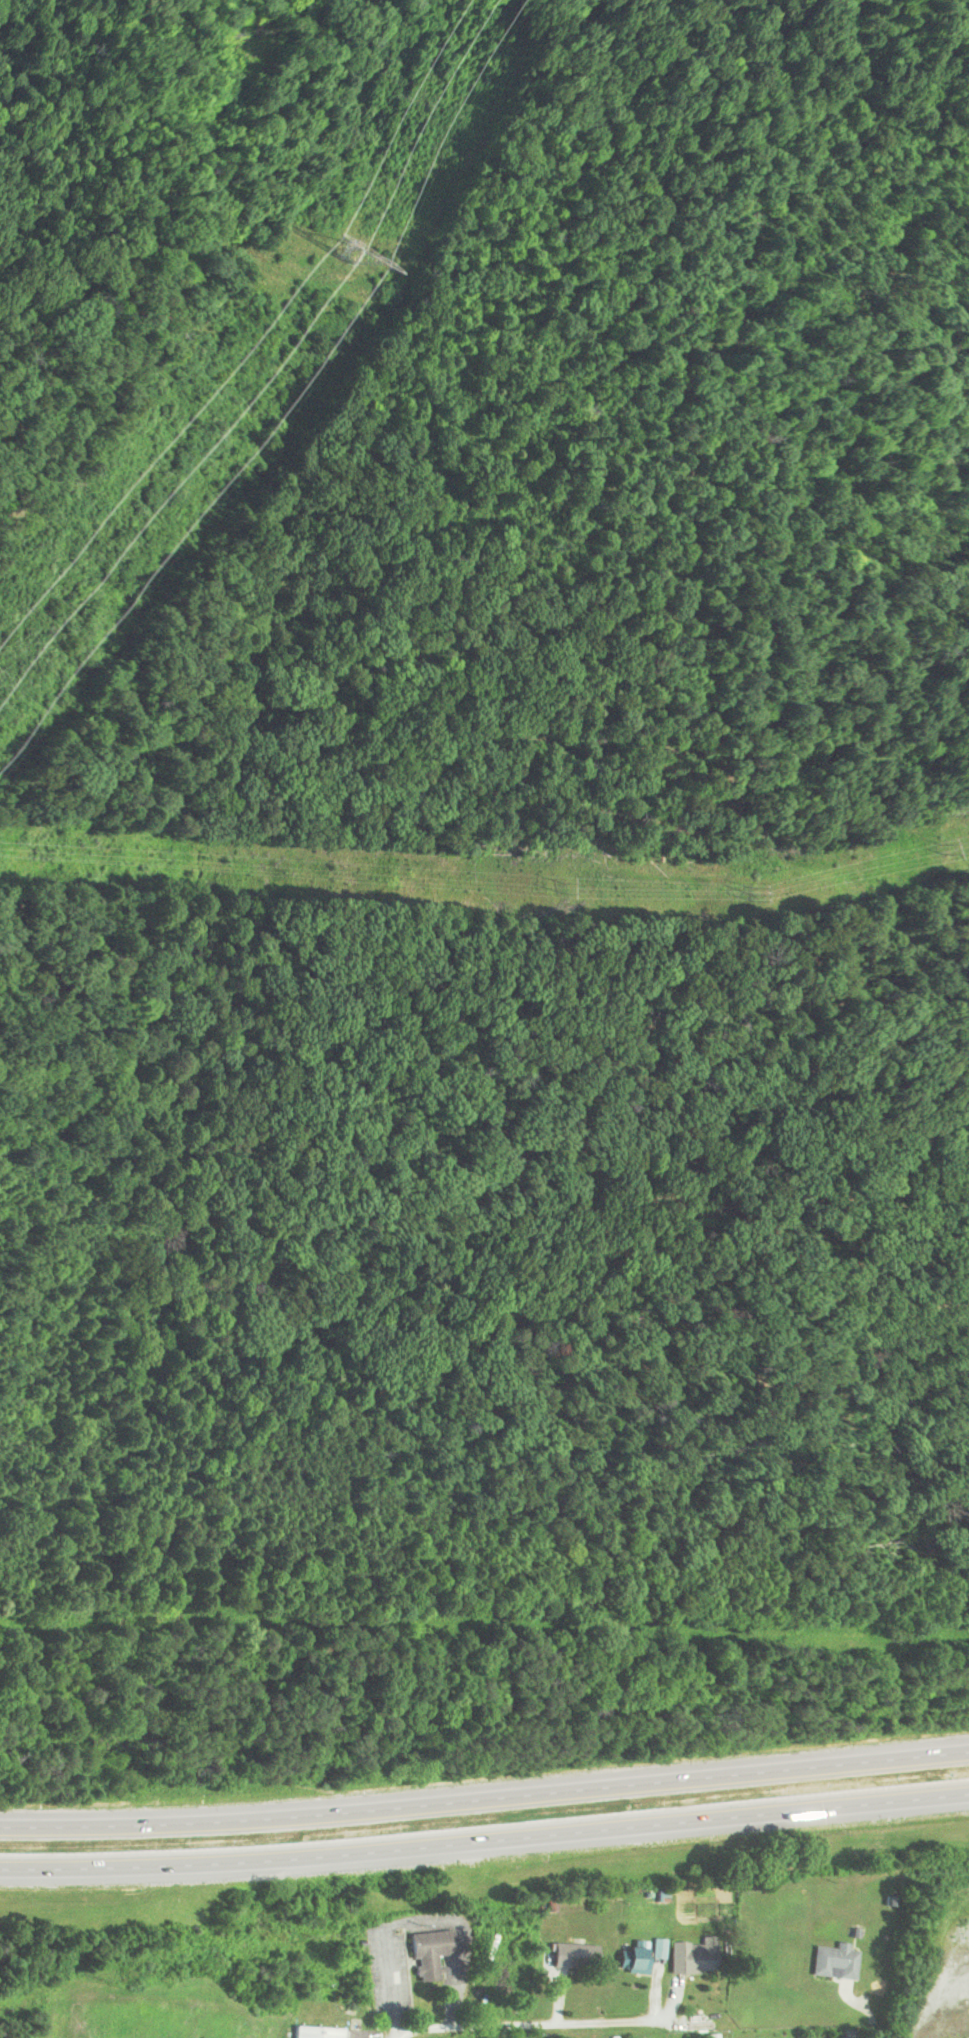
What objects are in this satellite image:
power tower: (344, 251)
road: (481, 260)
building: (474, 1796)
road: (485, 1802)
road: (485, 1848)
building: (429, 1952)
building: (572, 1956)
building: (694, 1957)
building: (633, 1960)
building: (835, 1961)
road: (528, 2022)
building: (315, 2032)

